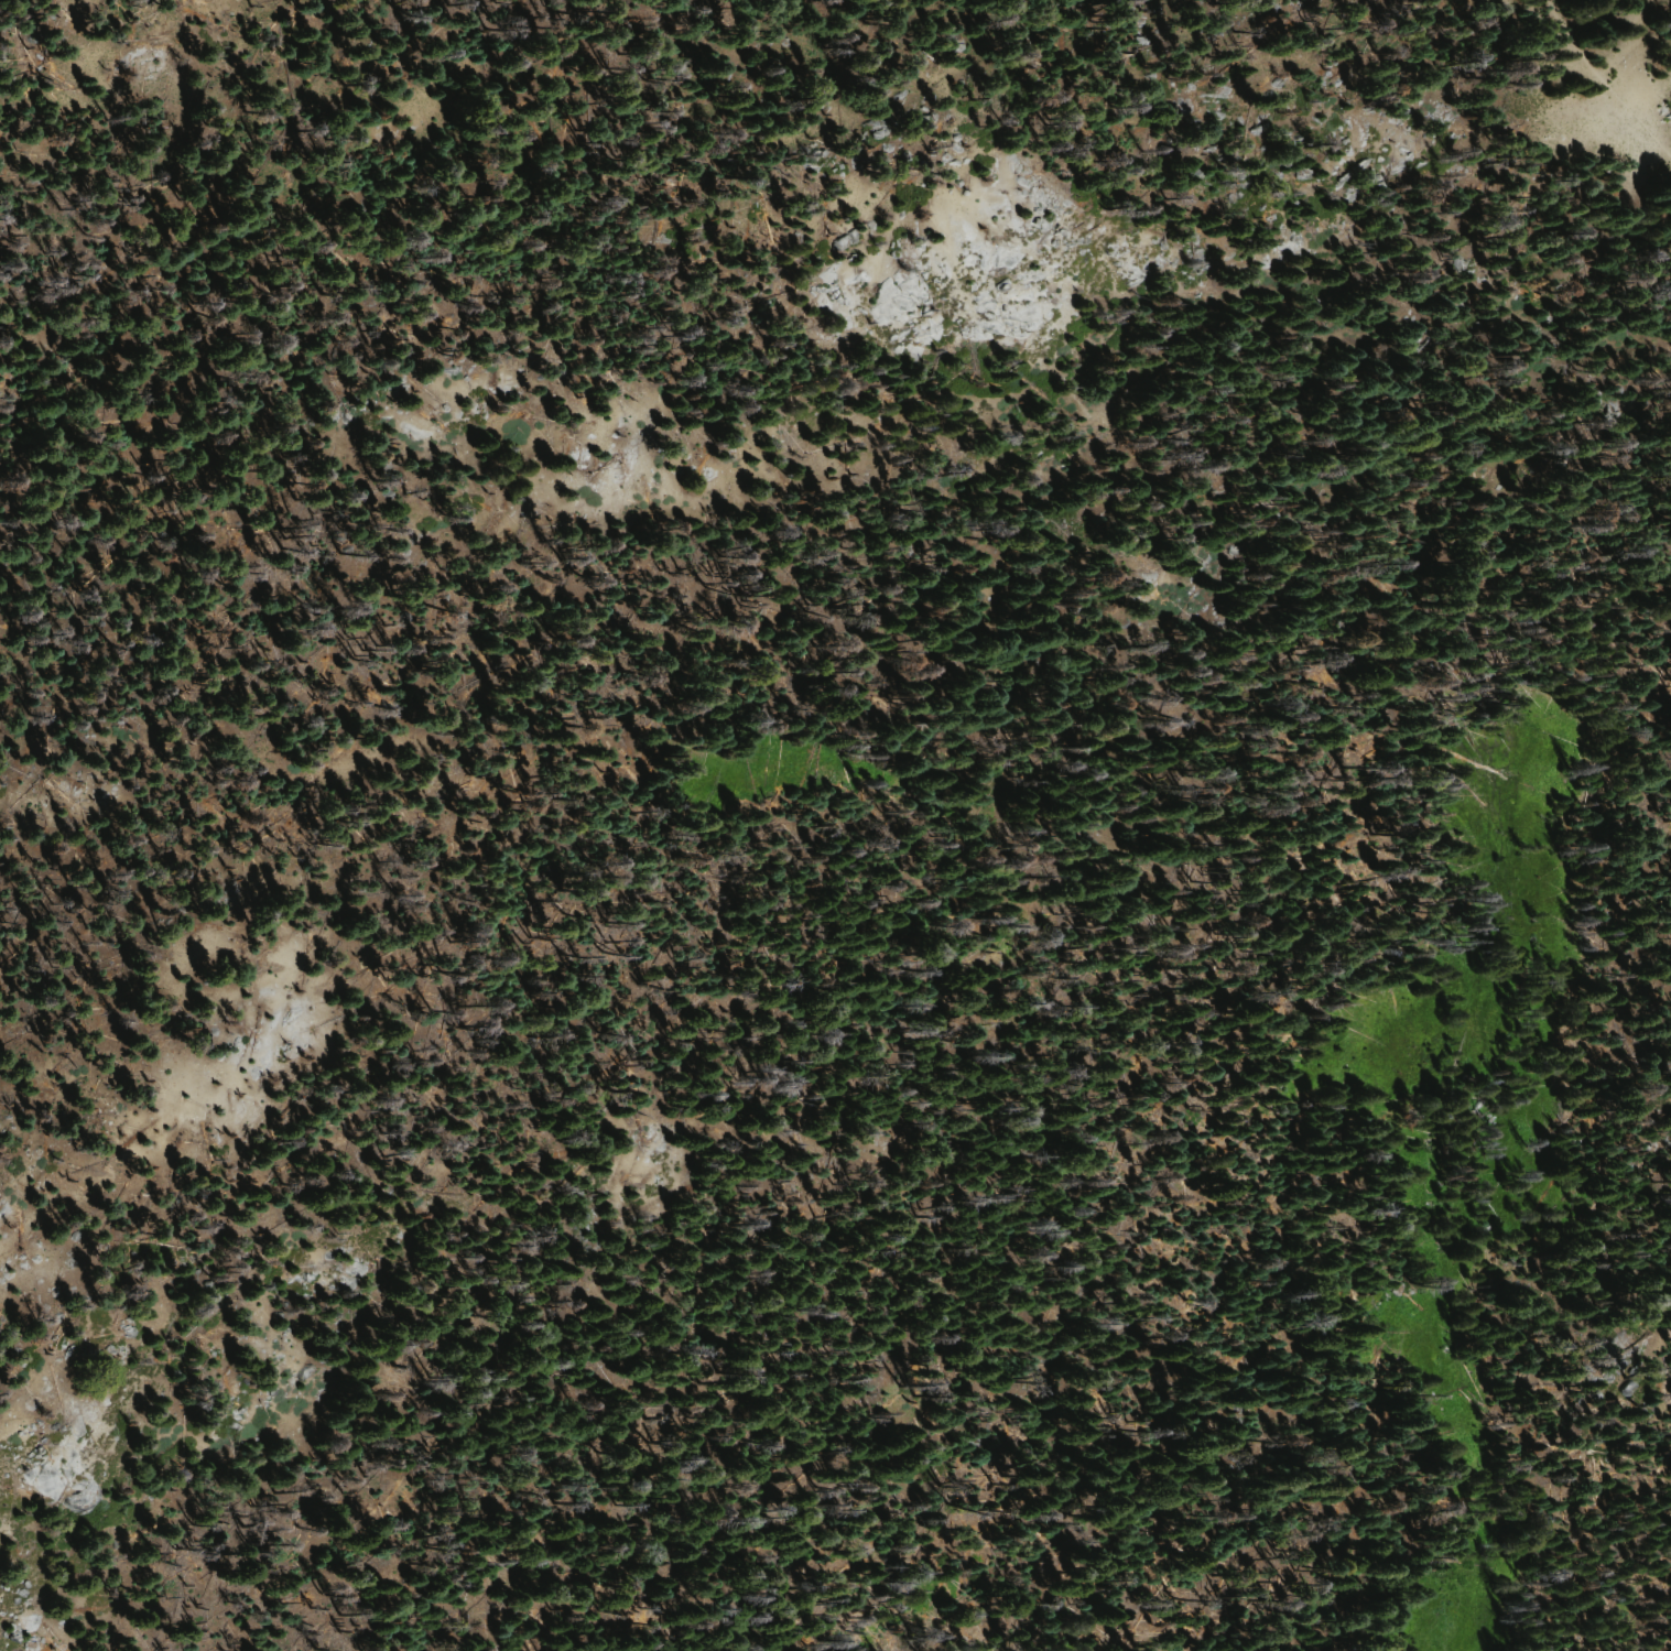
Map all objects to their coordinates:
road: (1603, 78)

